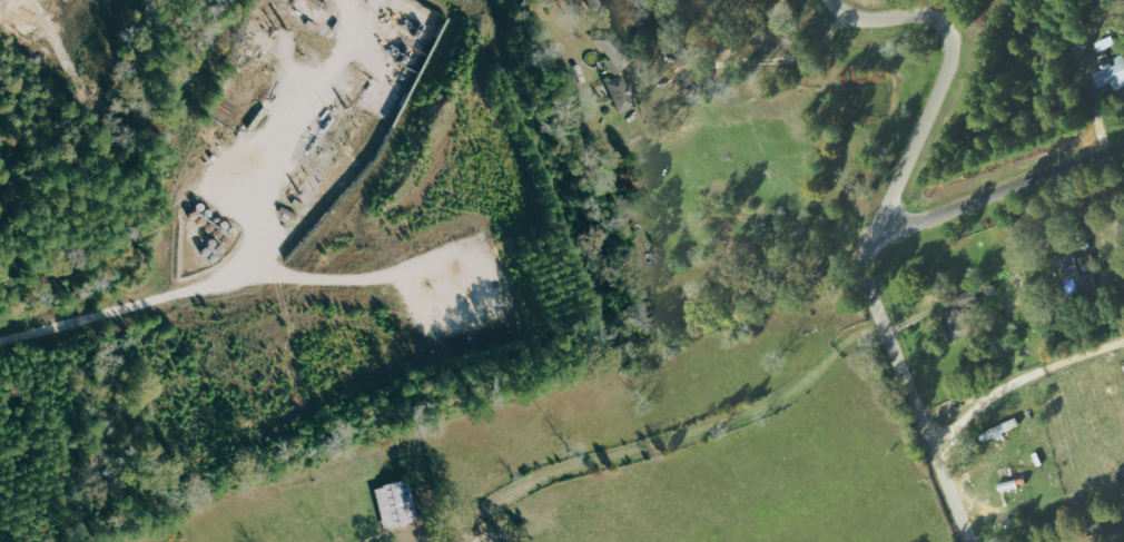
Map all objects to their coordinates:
building: (595, 3)
building: (614, 51)
building: (1111, 70)
road: (945, 77)
building: (622, 93)
road: (999, 193)
road: (255, 246)
building: (1090, 263)
building: (1078, 277)
building: (956, 324)
road: (909, 391)
building: (1000, 430)
building: (395, 504)

